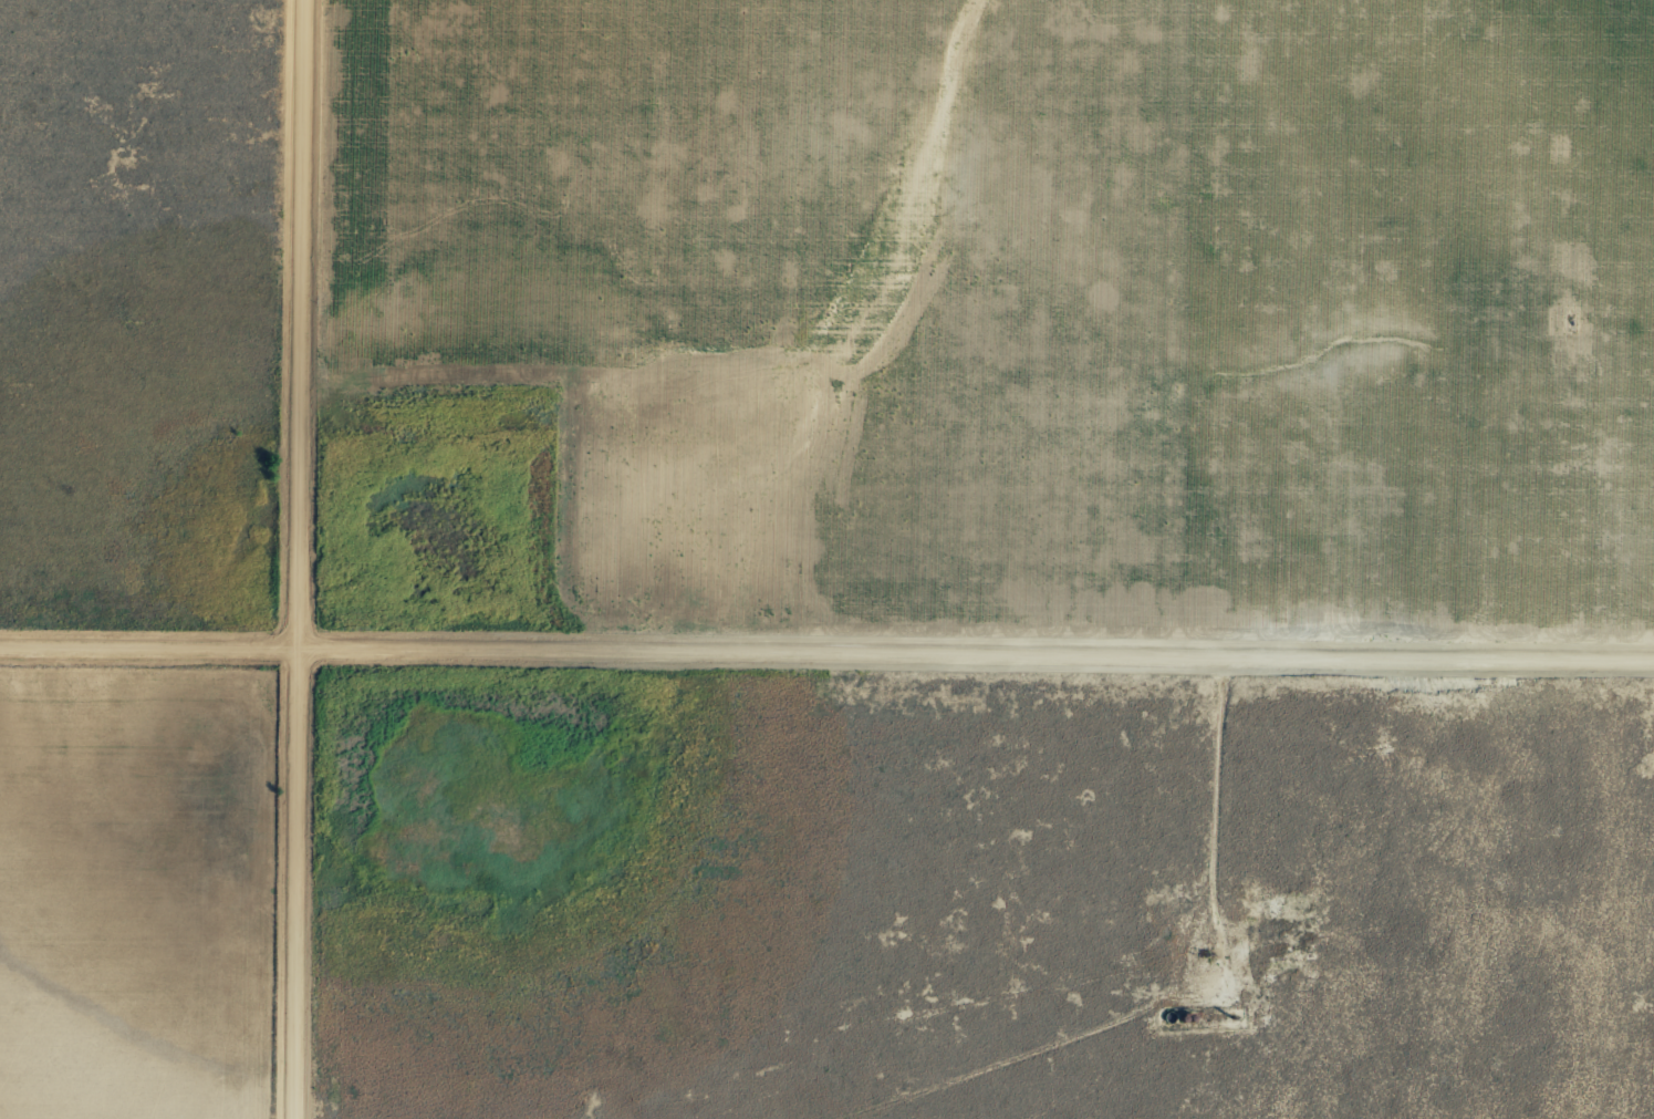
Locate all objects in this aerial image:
road: (294, 559)
road: (826, 660)
petroleum well: (1217, 965)

